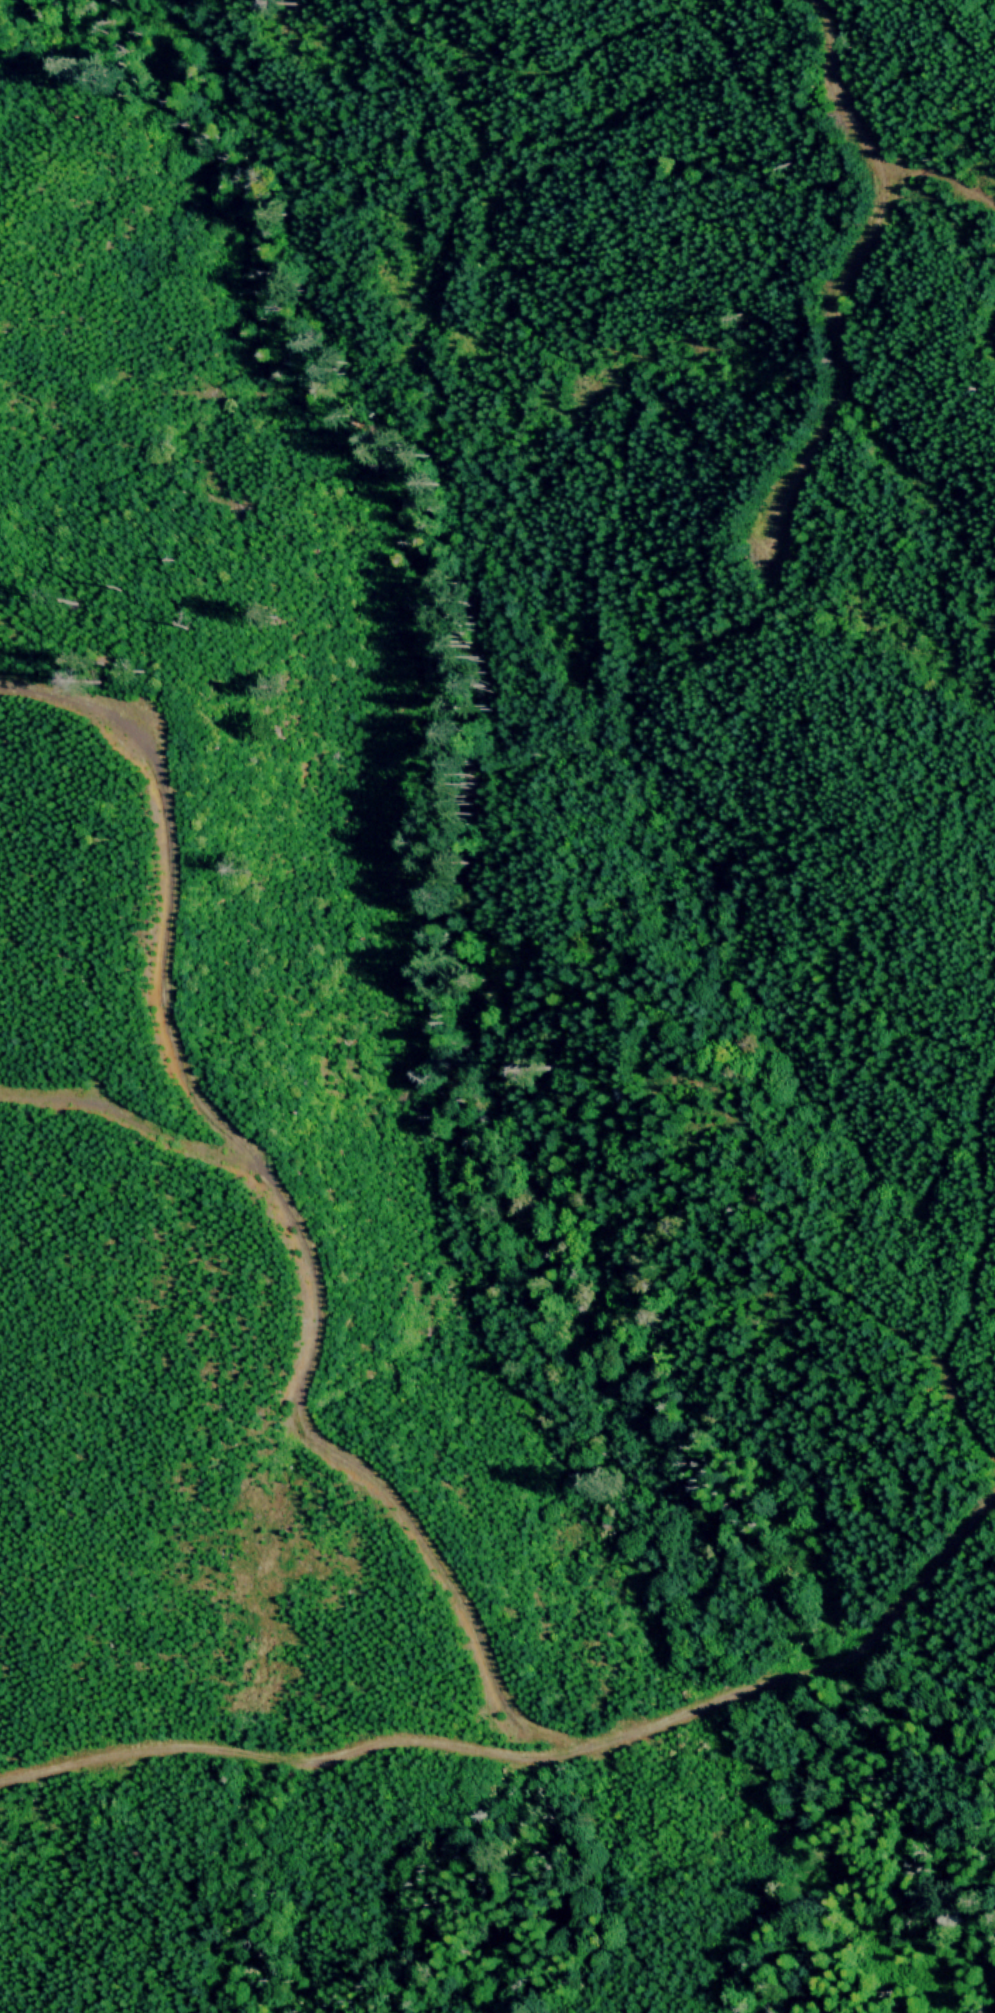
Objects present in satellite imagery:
road: (687, 179)
road: (974, 1253)
road: (546, 1791)

